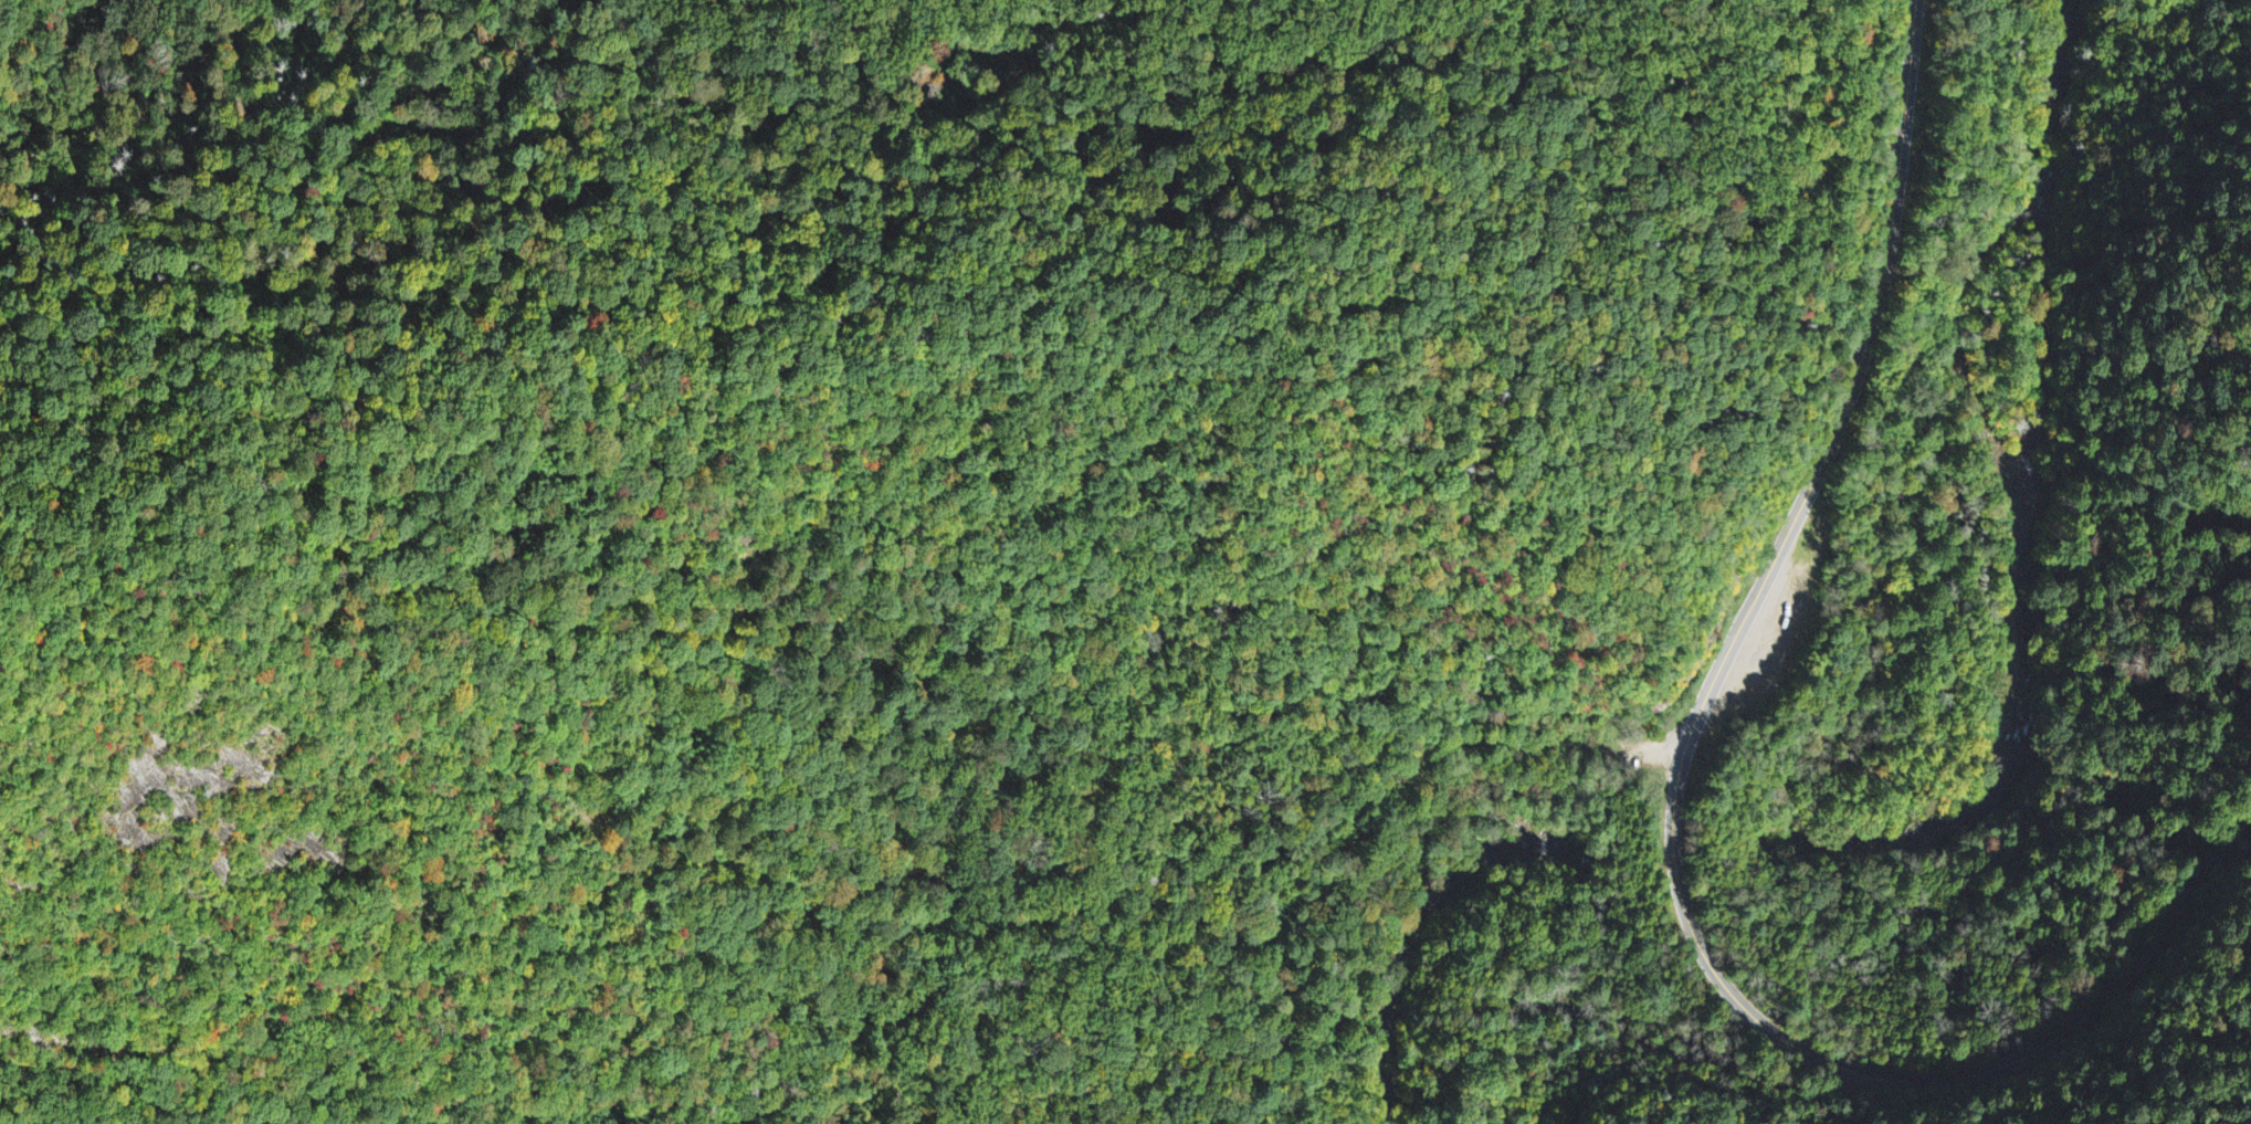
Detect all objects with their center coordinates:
river: (2057, 164)
river: (2044, 338)
river: (2031, 666)
road: (1618, 747)
parking lot: (1626, 753)
road: (1673, 808)
river: (1684, 841)
road: (1316, 853)
river: (1421, 917)
road: (1677, 1064)

